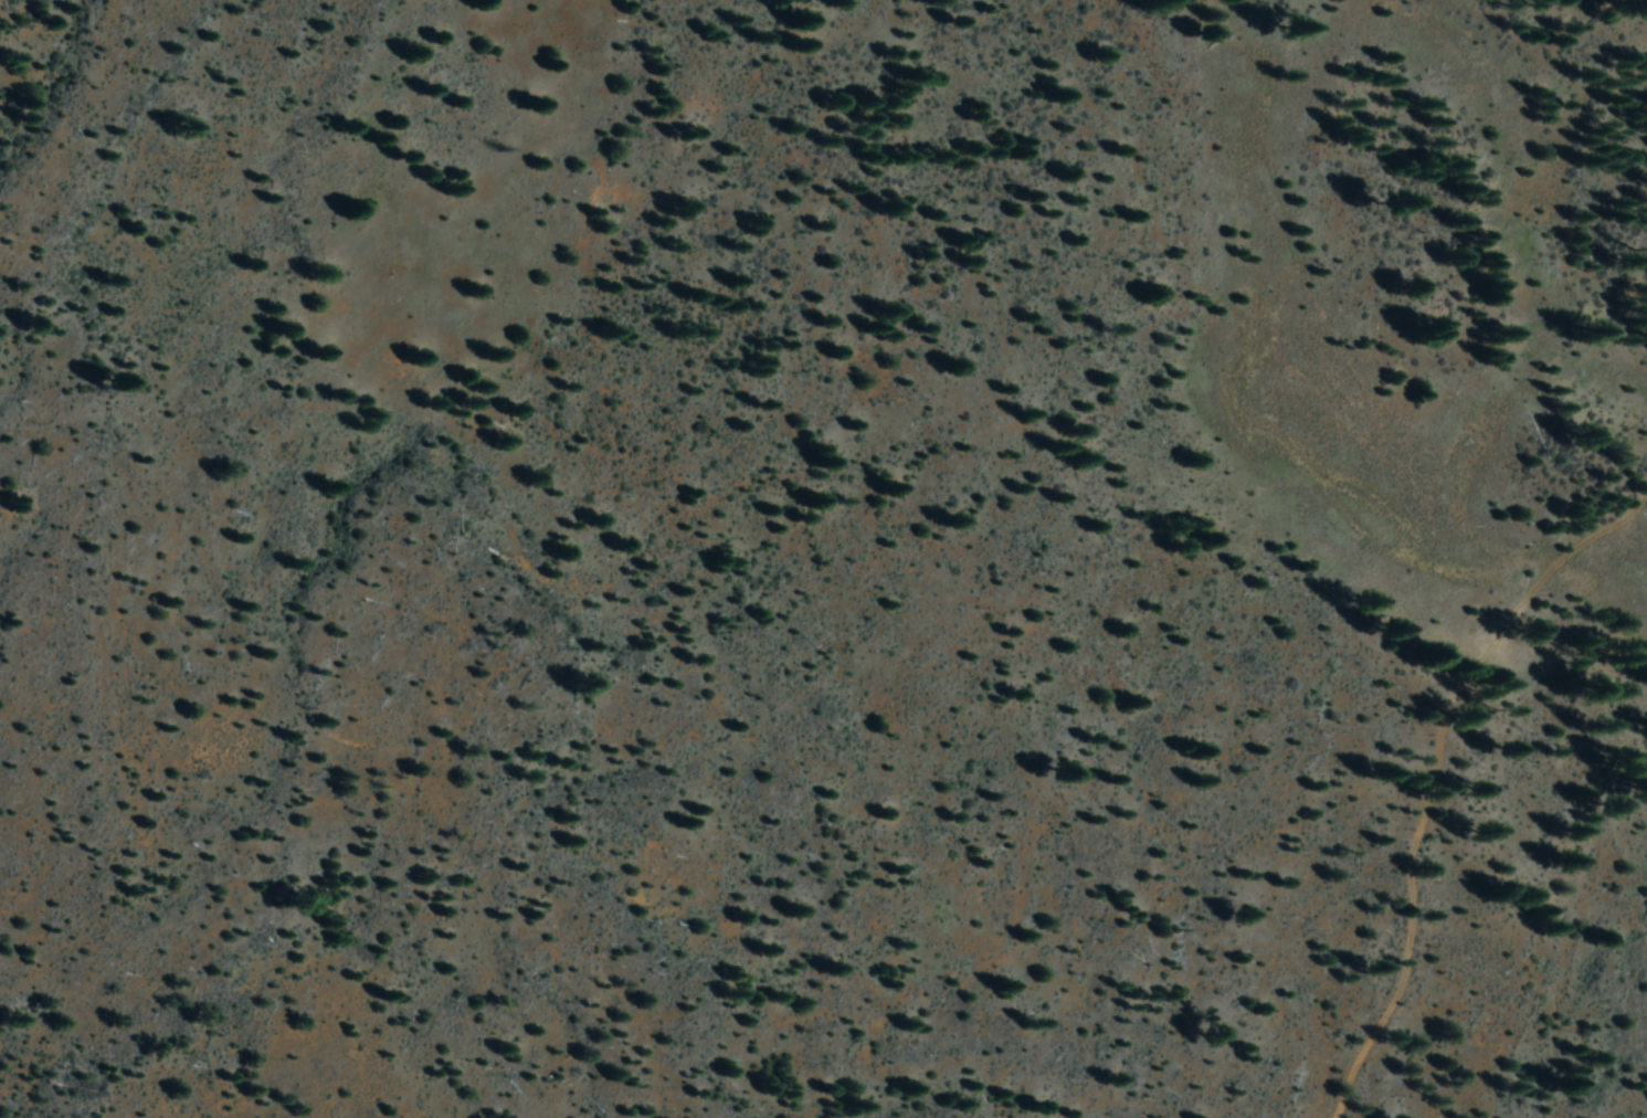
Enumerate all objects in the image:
road: (1440, 779)

